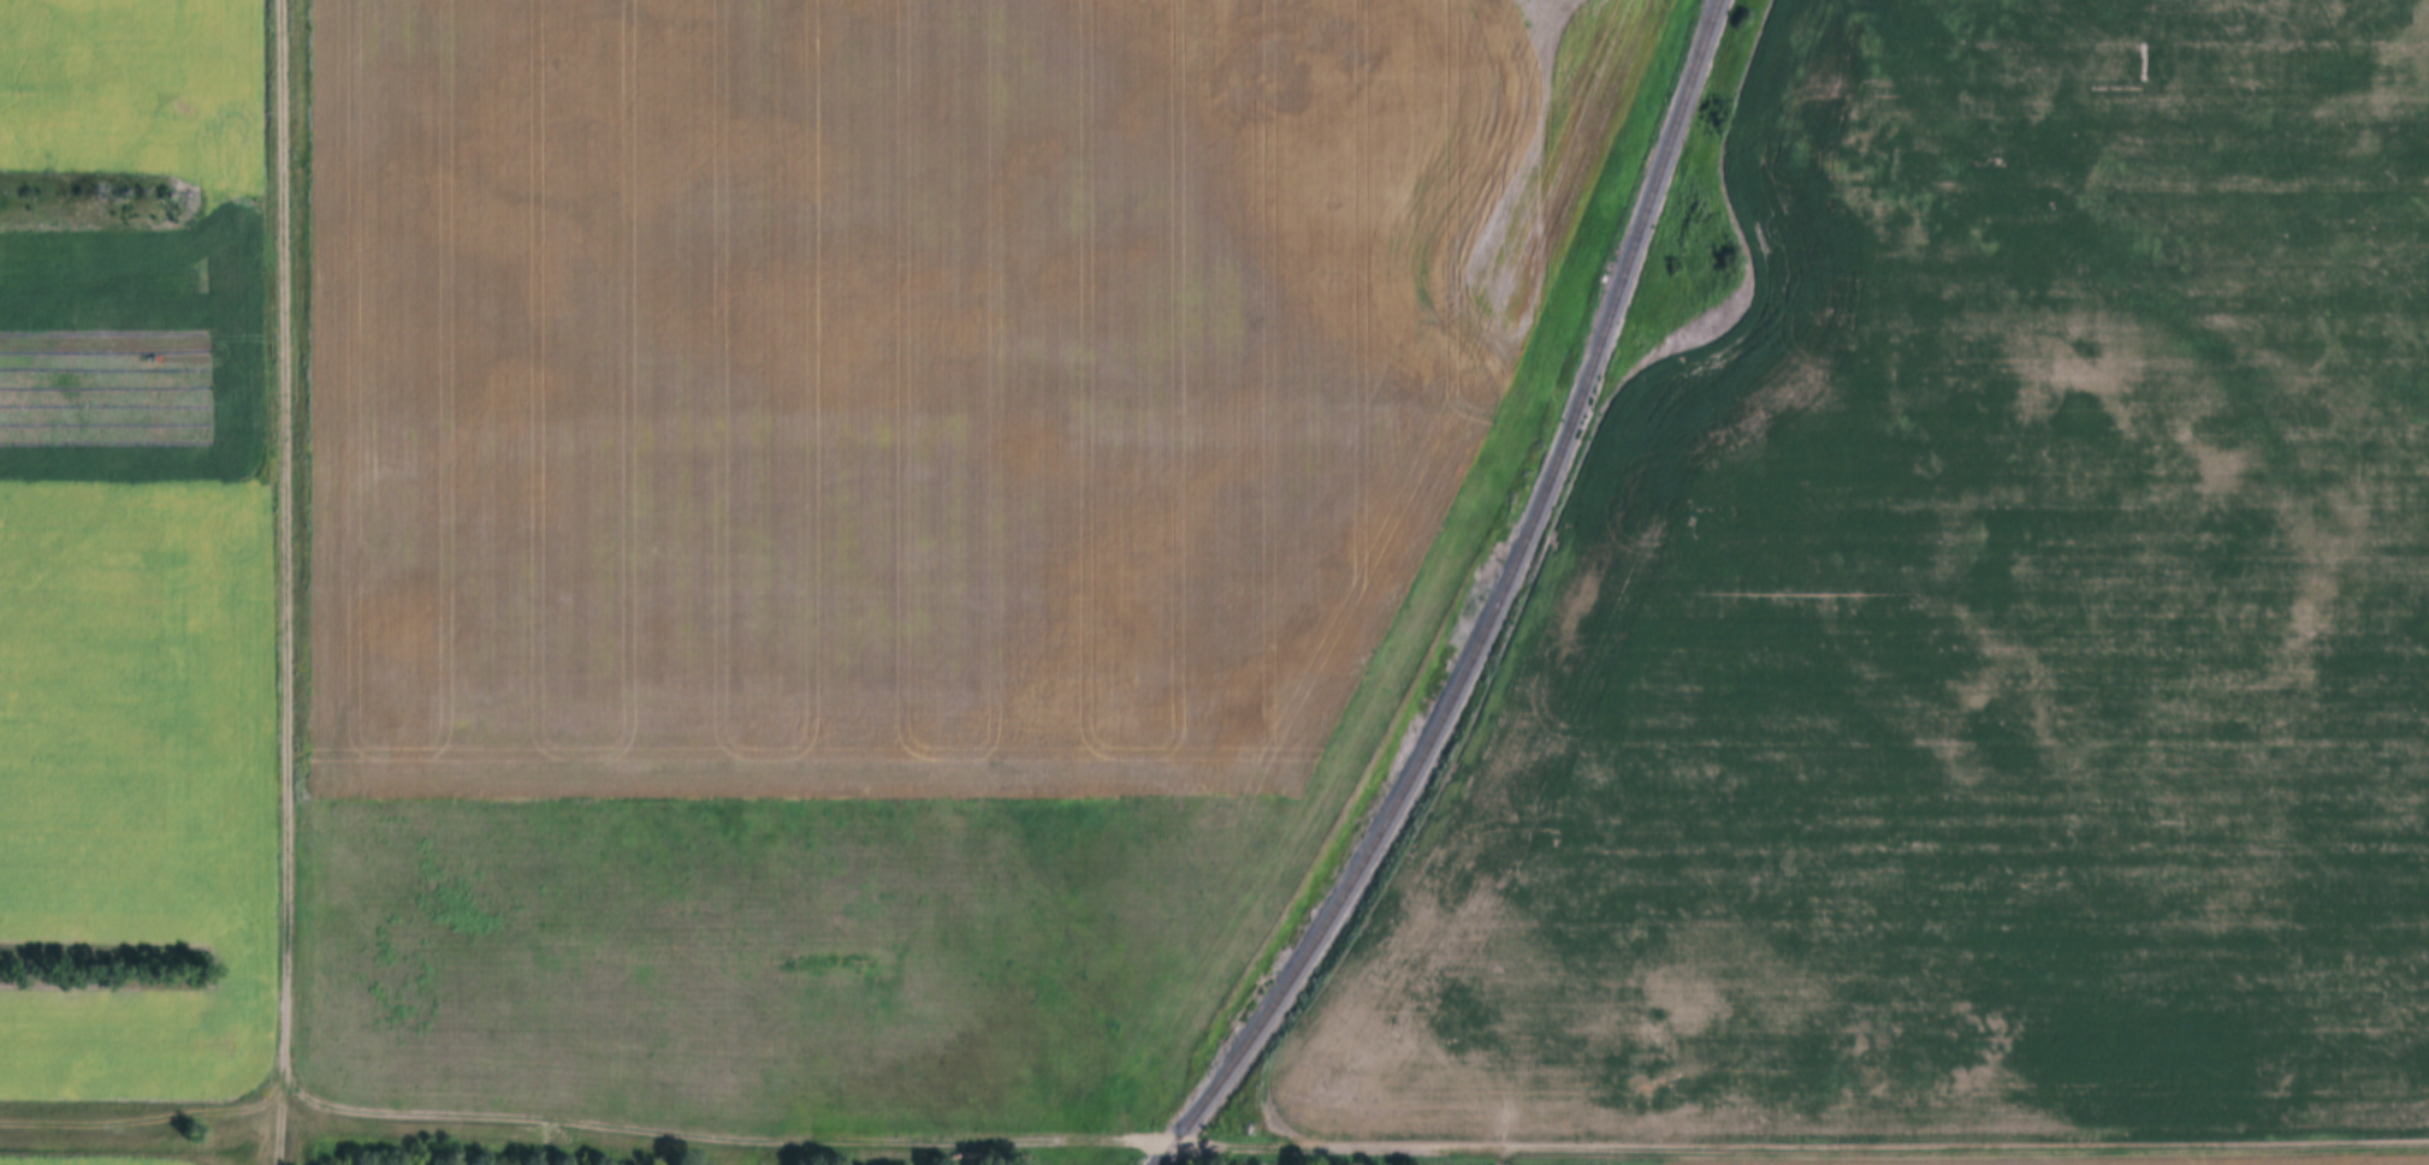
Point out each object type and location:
road: (289, 582)
railway: (1493, 610)
road: (1214, 1145)

